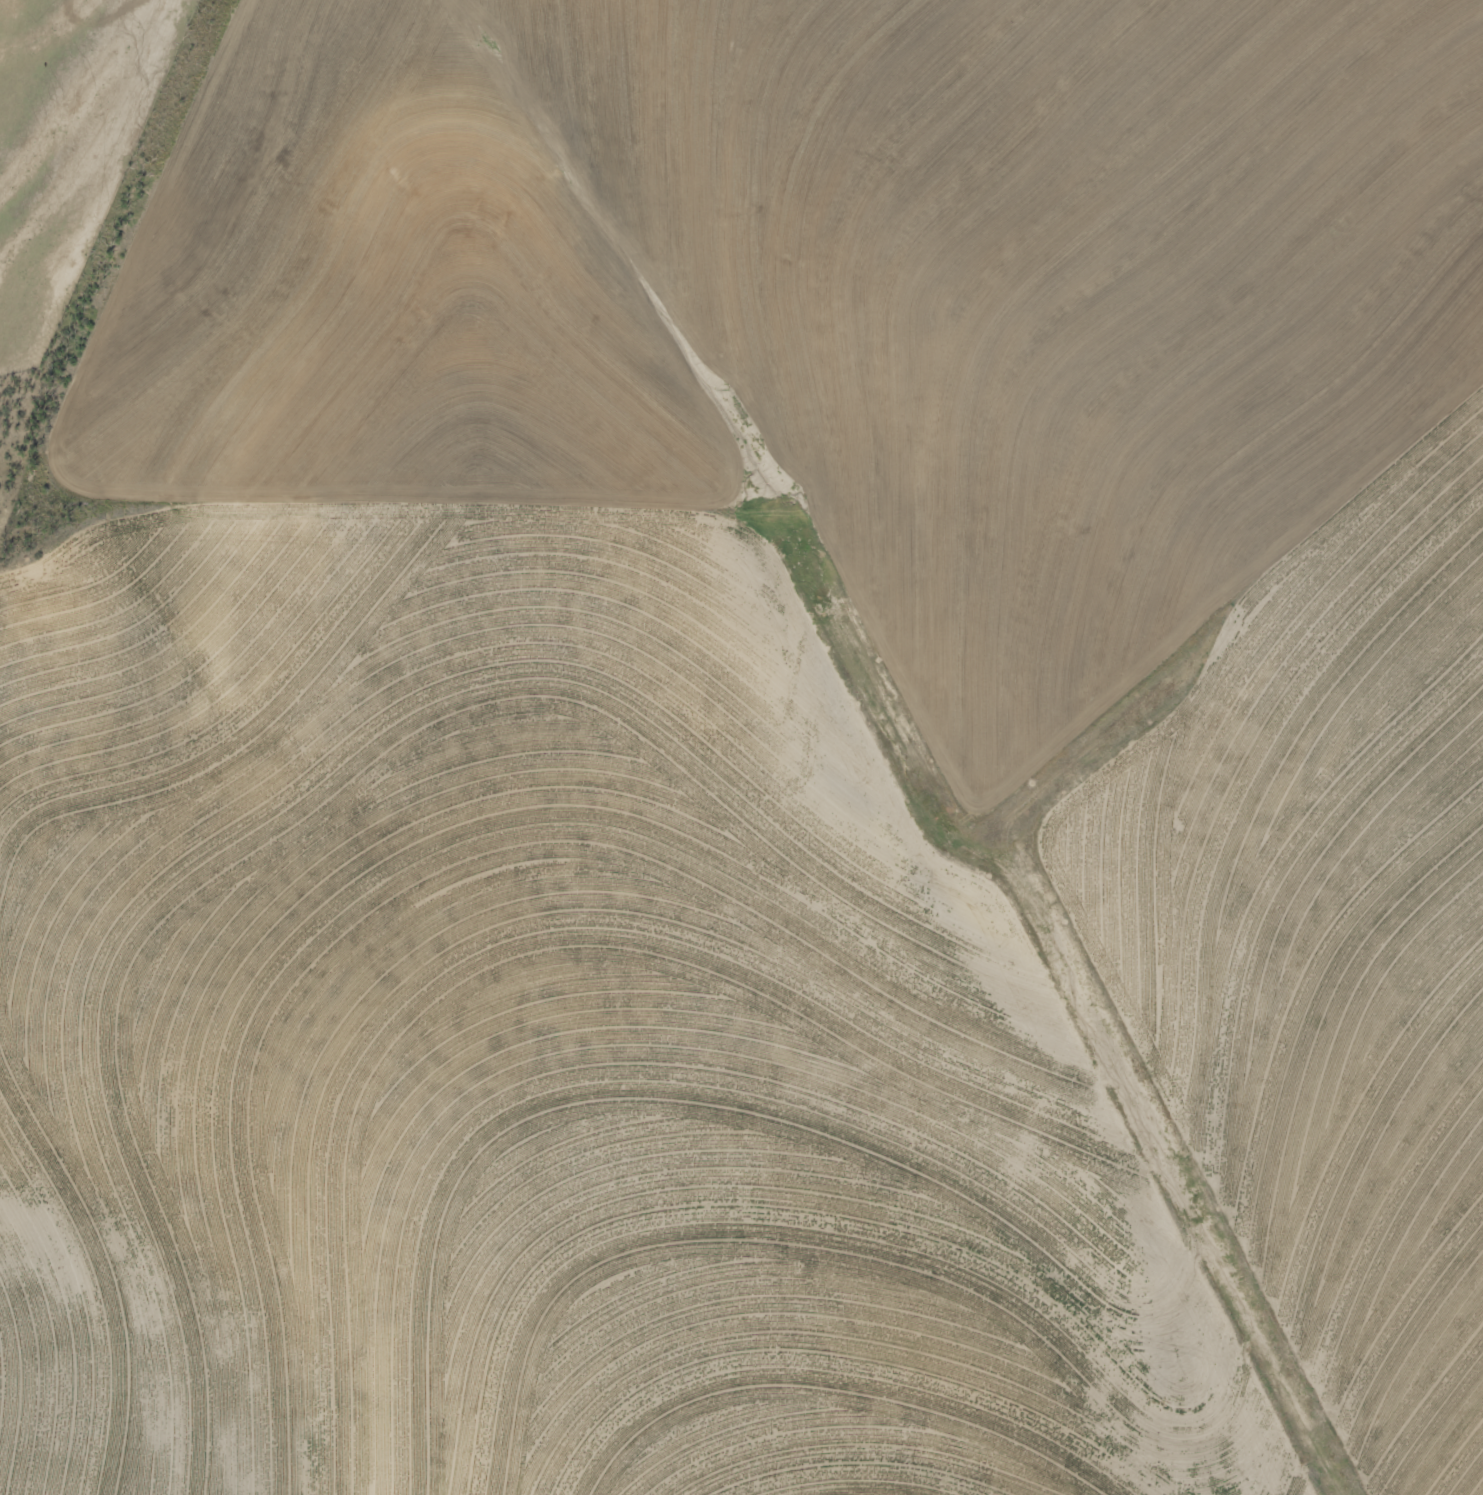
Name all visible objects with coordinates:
road: (1170, 944)

